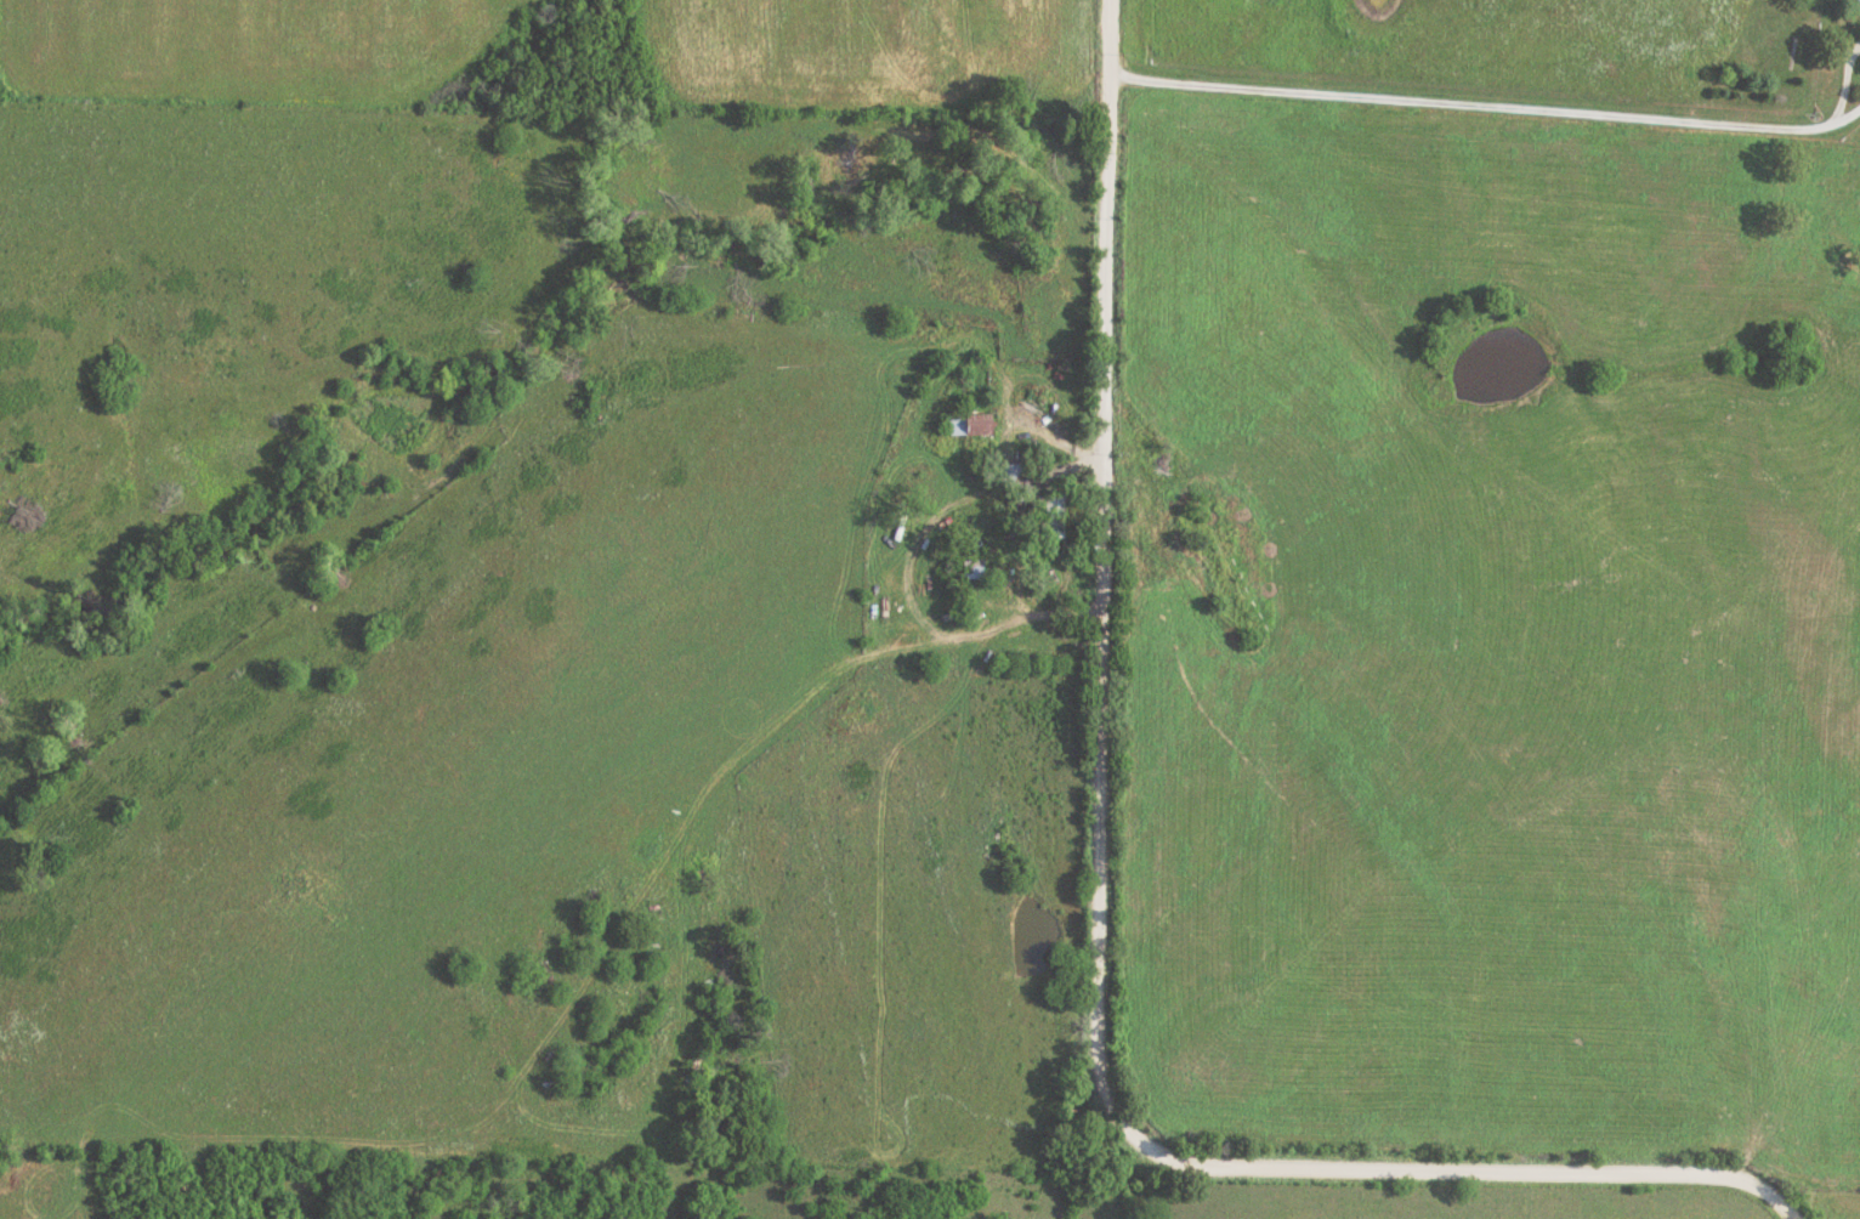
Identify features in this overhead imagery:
building: (1858, 0)
road: (1487, 108)
road: (690, 331)
building: (969, 424)
building: (1013, 474)
building: (1053, 515)
building: (972, 568)
road: (989, 625)
road: (1098, 922)

